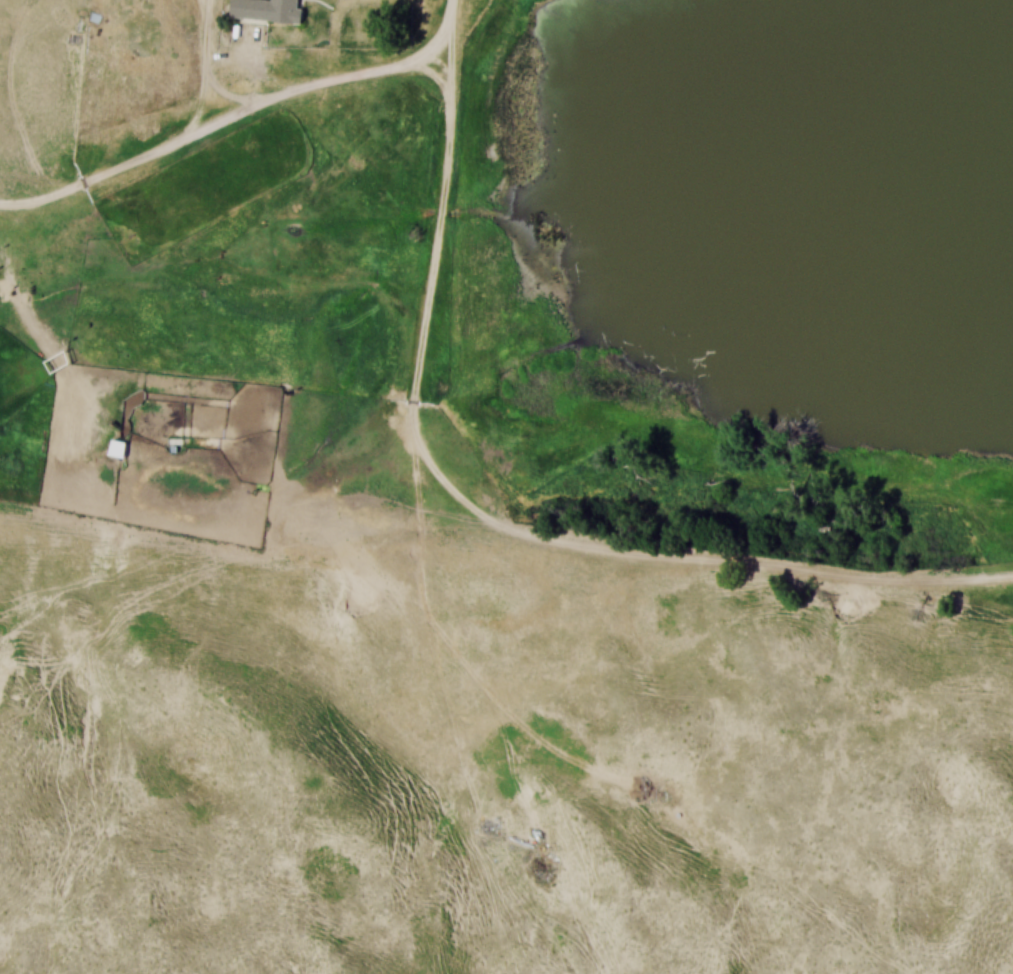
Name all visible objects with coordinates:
building: (268, 11)
road: (453, 31)
road: (423, 334)
building: (118, 449)
airport runway: (67, 532)

